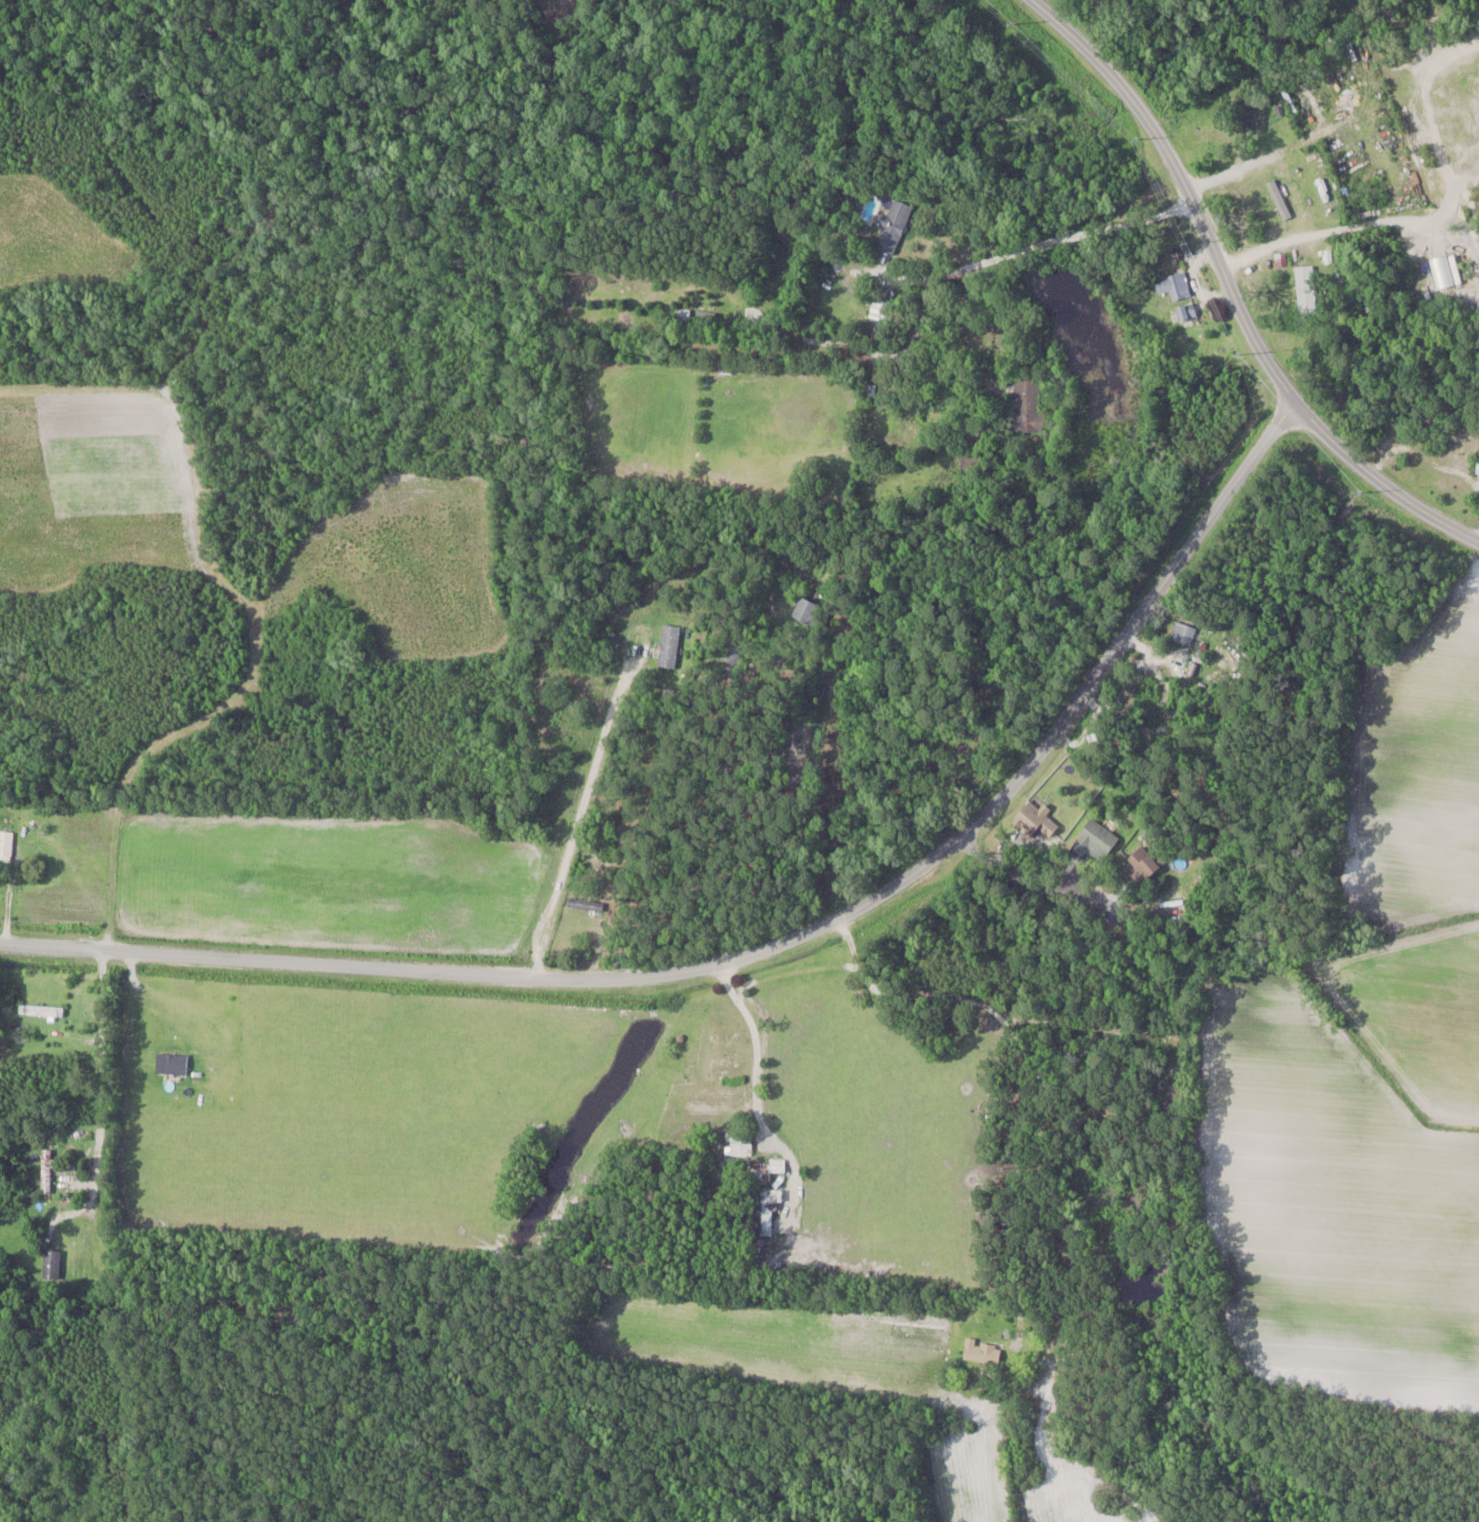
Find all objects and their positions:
road: (1240, 166)
road: (1394, 217)
building: (893, 227)
road: (997, 240)
building: (1174, 286)
building: (1307, 290)
road: (1232, 292)
building: (1186, 312)
building: (683, 313)
building: (1027, 406)
building: (969, 459)
road: (1421, 459)
building: (1478, 461)
road: (1477, 538)
building: (807, 610)
building: (1183, 632)
building: (669, 644)
building: (732, 650)
road: (580, 809)
building: (1036, 821)
building: (1096, 839)
building: (6, 843)
building: (1144, 862)
road: (1033, 884)
building: (587, 904)
road: (768, 948)
building: (41, 1010)
building: (172, 1063)
road: (216, 1072)
road: (101, 1075)
road: (755, 1080)
building: (739, 1143)
building: (770, 1167)
building: (47, 1170)
road: (1017, 1184)
building: (768, 1209)
building: (52, 1264)
building: (981, 1352)

